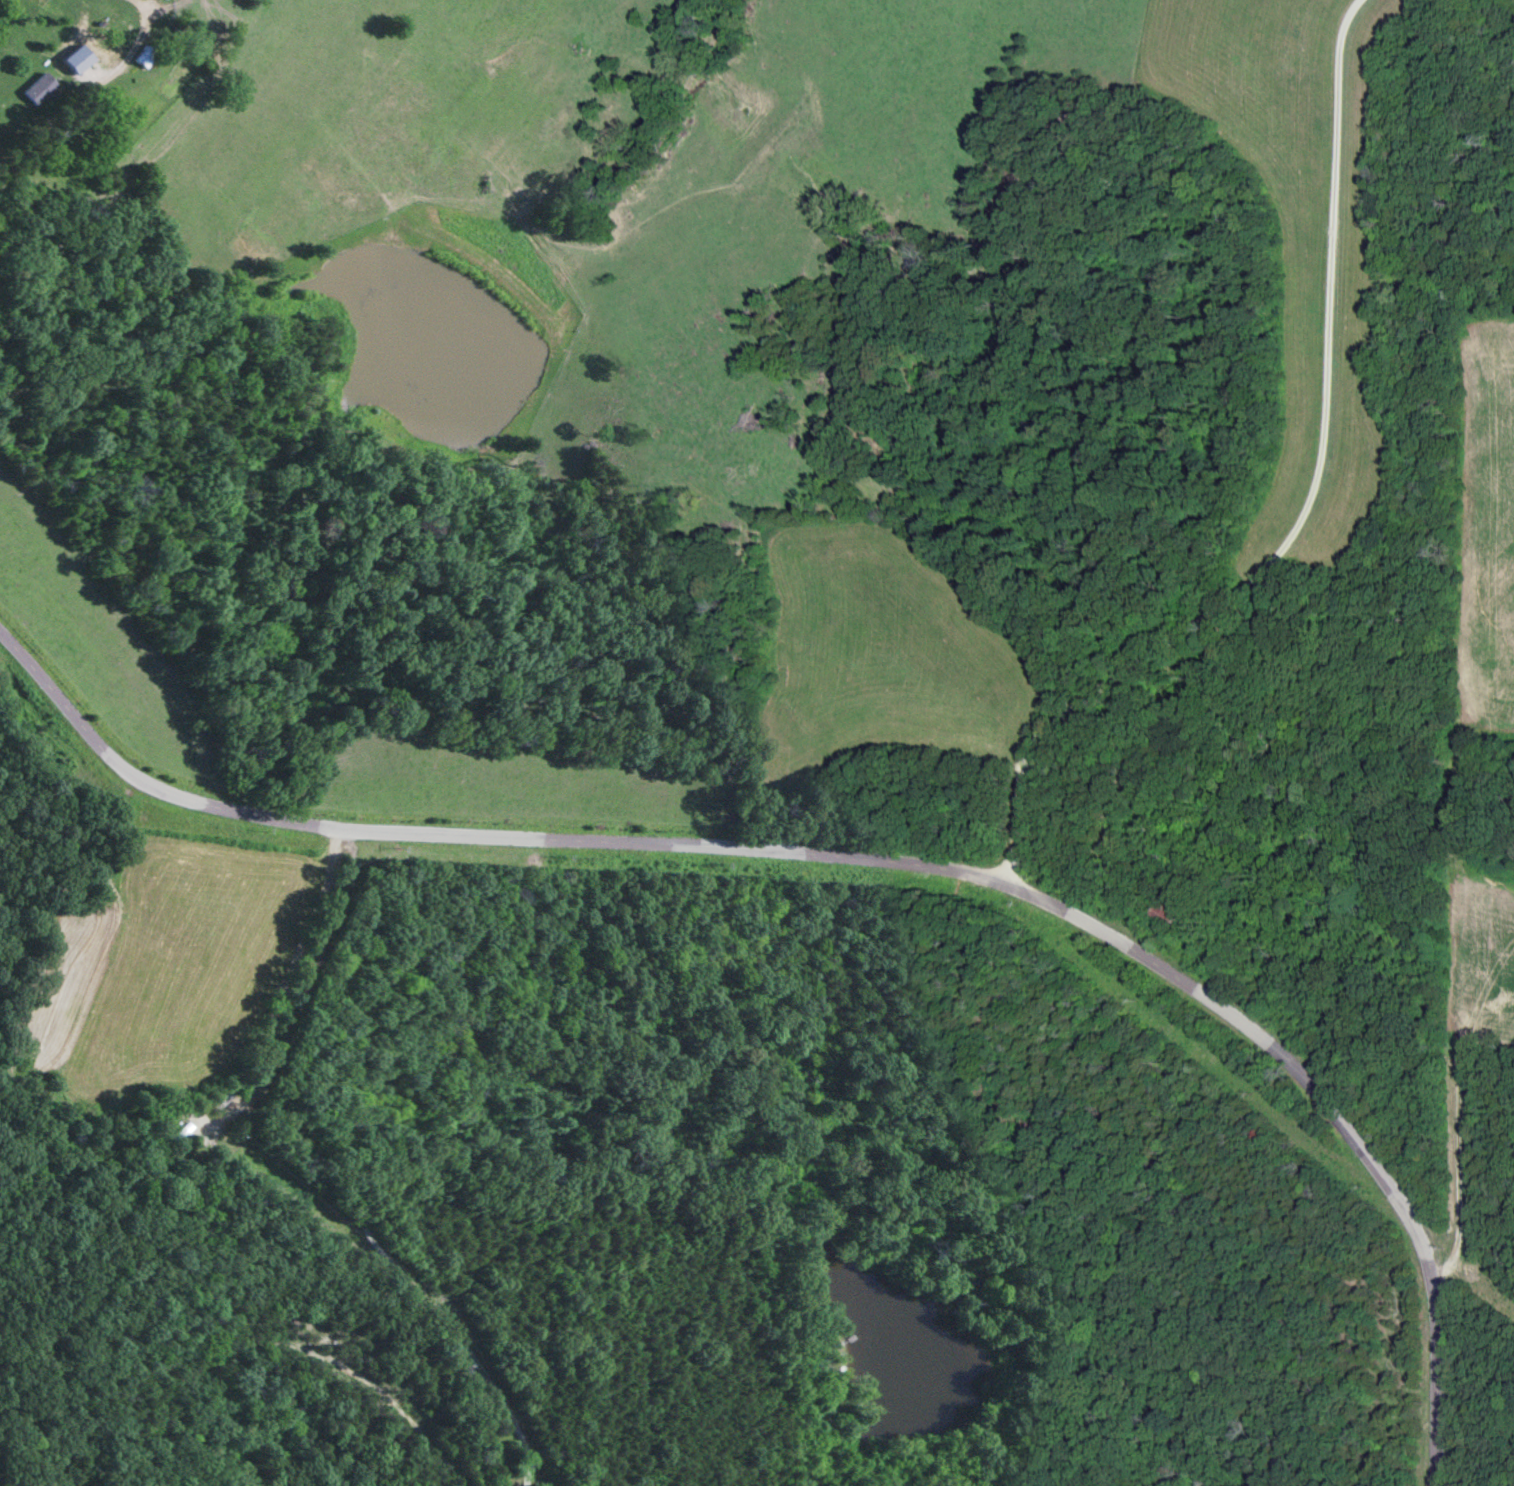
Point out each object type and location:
building: (99, 52)
building: (139, 59)
building: (35, 91)
road: (80, 92)
road: (1273, 489)
road: (866, 882)
building: (1164, 918)

